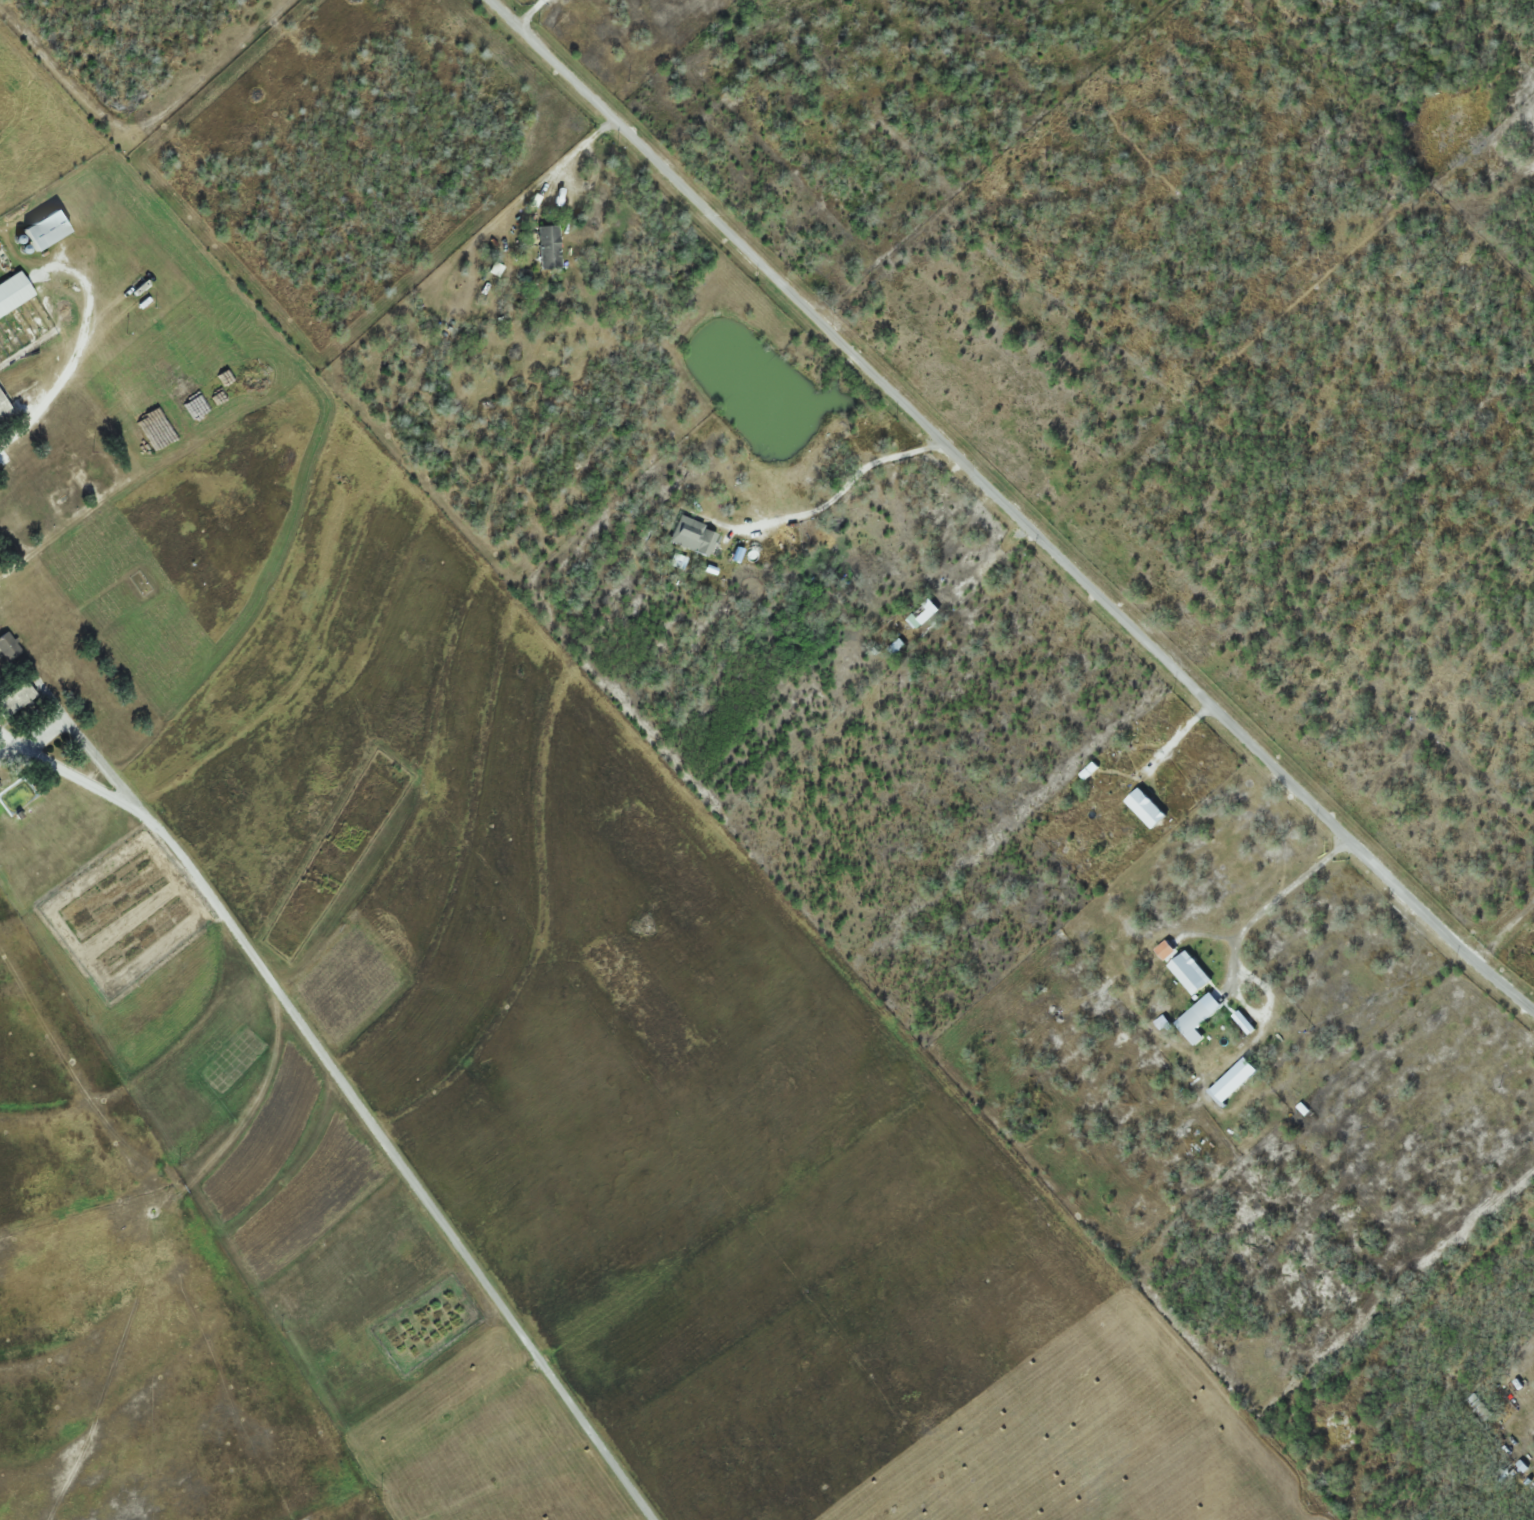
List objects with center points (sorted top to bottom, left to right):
building: (49, 230)
building: (550, 247)
building: (15, 294)
building: (5, 408)
road: (1007, 510)
building: (691, 534)
building: (741, 578)
building: (925, 613)
building: (9, 646)
building: (17, 698)
road: (351, 1097)

